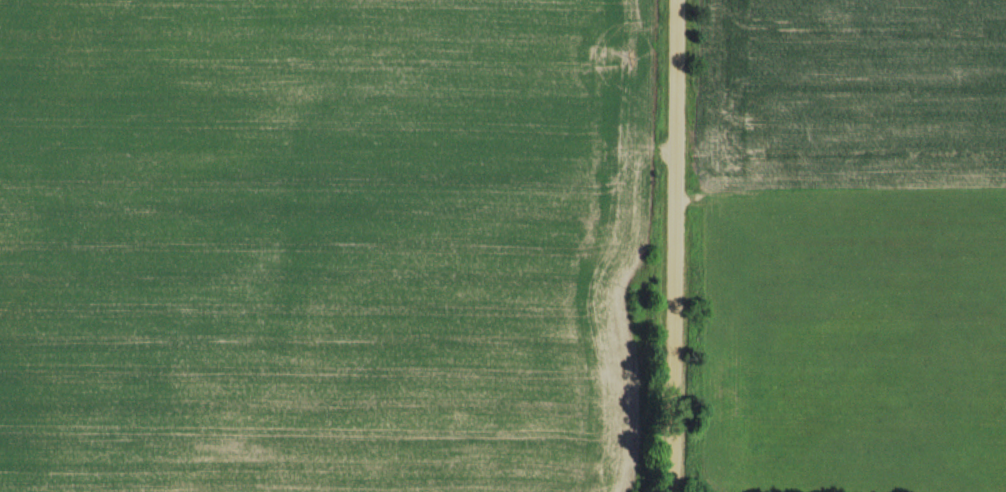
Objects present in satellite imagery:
road: (677, 246)

